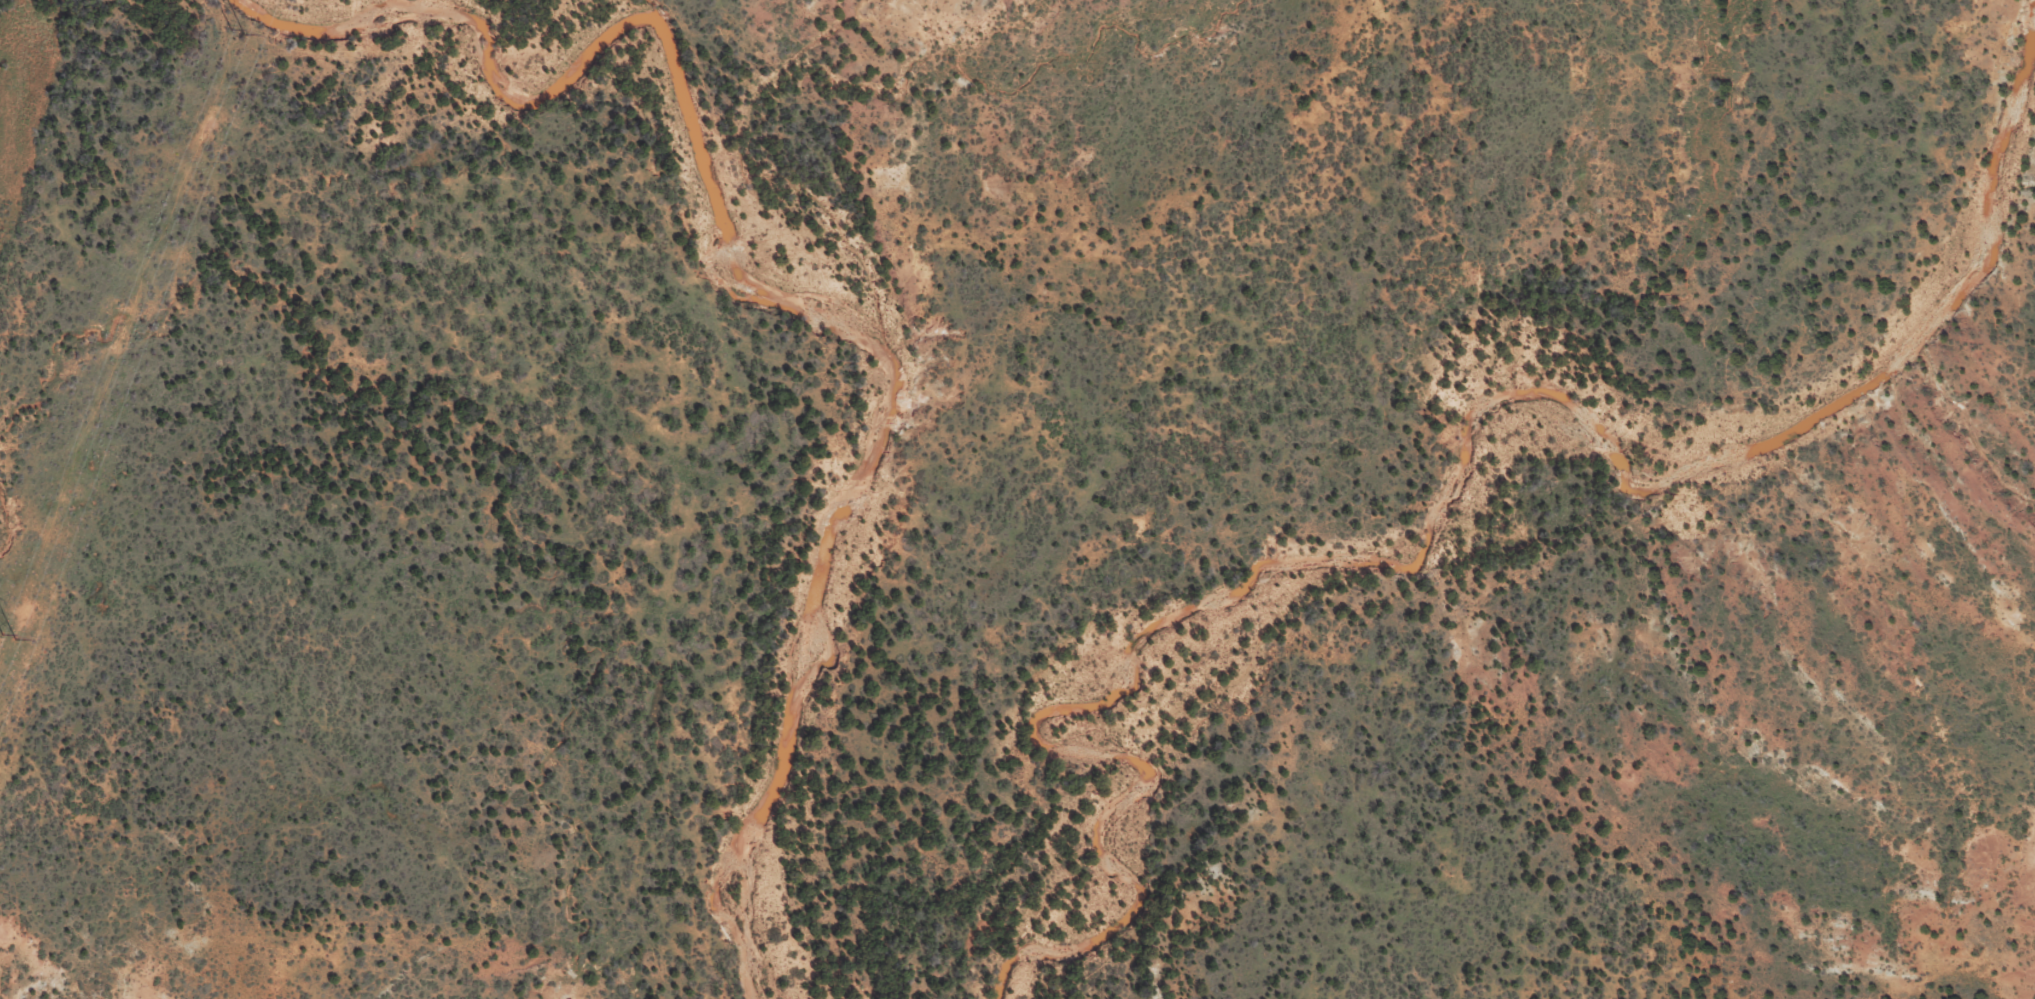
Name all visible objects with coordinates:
power tower: (234, 31)
power tower: (4, 640)

